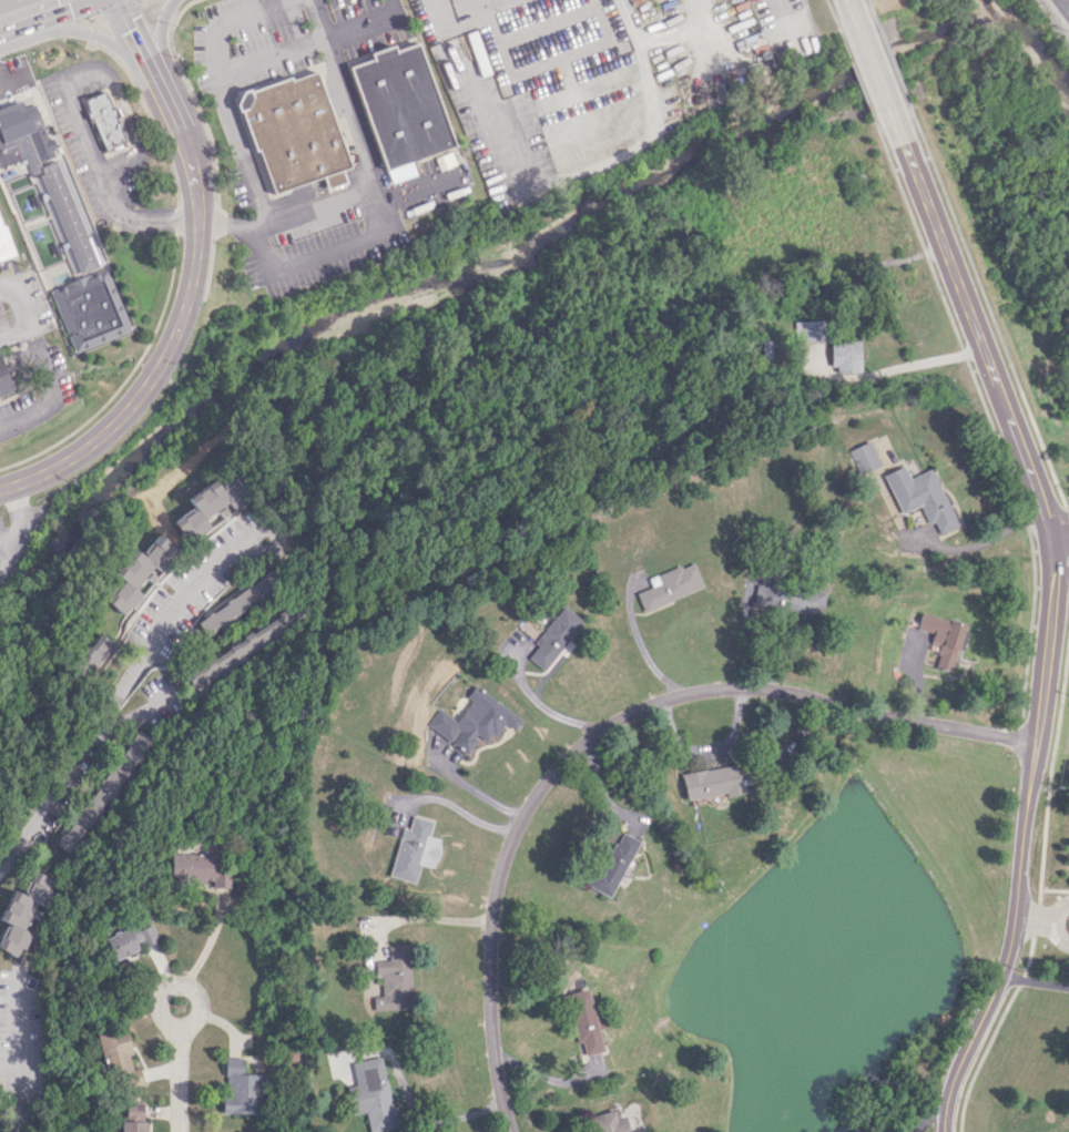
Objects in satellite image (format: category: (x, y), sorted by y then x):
road: (389, 6)
road: (869, 8)
road: (1062, 8)
road: (6, 9)
road: (28, 9)
road: (851, 10)
road: (831, 13)
road: (774, 14)
road: (0, 19)
road: (355, 26)
road: (81, 29)
road: (156, 33)
road: (133, 34)
road: (640, 53)
road: (536, 60)
road: (889, 60)
road: (268, 61)
road: (874, 67)
road: (855, 74)
road: (8, 77)
parking lot: (14, 79)
road: (220, 99)
building: (398, 108)
road: (144, 114)
building: (103, 119)
road: (125, 126)
building: (291, 130)
road: (99, 166)
road: (416, 188)
road: (310, 210)
road: (174, 218)
road: (384, 226)
building: (62, 230)
building: (4, 243)
parking lot: (7, 274)
road: (985, 306)
parking lot: (0, 308)
road: (23, 313)
road: (180, 316)
building: (805, 329)
building: (843, 355)
road: (887, 369)
road: (124, 377)
building: (3, 383)
road: (49, 398)
road: (987, 416)
building: (861, 457)
building: (918, 496)
building: (205, 506)
road: (1057, 514)
road: (16, 527)
road: (1067, 527)
road: (8, 534)
road: (980, 541)
road: (1060, 557)
building: (138, 572)
building: (670, 585)
building: (783, 598)
road: (1049, 616)
road: (746, 629)
building: (553, 638)
building: (943, 638)
road: (641, 646)
building: (91, 653)
road: (120, 686)
road: (537, 702)
building: (474, 721)
road: (609, 730)
road: (705, 747)
road: (1049, 764)
building: (711, 782)
road: (477, 792)
road: (465, 813)
building: (413, 849)
building: (612, 863)
building: (191, 868)
road: (1053, 889)
building: (21, 911)
road: (400, 918)
road: (1034, 919)
road: (1035, 919)
road: (1056, 922)
road: (211, 938)
building: (129, 939)
building: (393, 979)
road: (1034, 981)
road: (173, 986)
building: (584, 1021)
road: (990, 1031)
road: (21, 1054)
building: (118, 1057)
road: (179, 1079)
road: (551, 1080)
building: (241, 1089)
building: (371, 1093)
building: (133, 1118)
road: (416, 1118)
building: (610, 1121)

